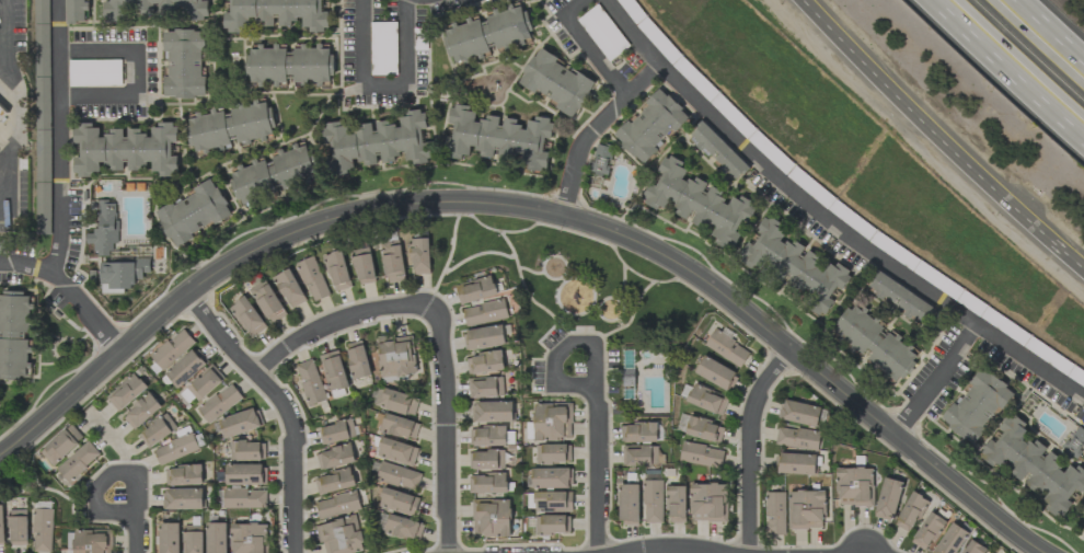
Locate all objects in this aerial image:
building: (157, 9)
building: (76, 10)
building: (276, 14)
building: (488, 34)
road: (1046, 36)
road: (590, 47)
building: (185, 65)
building: (290, 66)
road: (139, 72)
road: (1005, 72)
building: (94, 73)
road: (383, 81)
building: (556, 82)
road: (13, 93)
building: (1, 115)
building: (42, 117)
building: (651, 126)
building: (230, 127)
road: (592, 129)
road: (59, 136)
building: (498, 137)
road: (937, 139)
building: (376, 142)
building: (124, 149)
building: (718, 151)
building: (601, 160)
building: (275, 173)
building: (700, 203)
road: (535, 210)
building: (193, 214)
road: (828, 220)
building: (104, 228)
building: (420, 256)
building: (392, 257)
building: (795, 265)
building: (364, 266)
building: (337, 270)
building: (123, 275)
building: (313, 279)
building: (290, 288)
building: (475, 289)
road: (69, 293)
building: (901, 297)
building: (268, 301)
building: (485, 312)
building: (247, 316)
road: (338, 322)
building: (858, 331)
building: (14, 333)
building: (484, 337)
building: (727, 348)
building: (172, 349)
road: (566, 352)
building: (396, 356)
building: (893, 358)
building: (358, 359)
building: (484, 362)
building: (186, 368)
building: (333, 370)
building: (716, 373)
building: (310, 382)
road: (936, 382)
building: (200, 385)
building: (485, 387)
building: (126, 392)
building: (706, 400)
building: (395, 402)
building: (219, 403)
building: (978, 405)
road: (284, 407)
building: (141, 412)
building: (493, 412)
building: (800, 413)
building: (552, 422)
building: (240, 423)
building: (399, 427)
road: (448, 429)
building: (704, 429)
building: (157, 430)
building: (336, 431)
building: (638, 433)
building: (487, 436)
building: (797, 438)
building: (1079, 440)
road: (115, 442)
building: (61, 445)
road: (751, 445)
building: (176, 448)
building: (247, 450)
building: (396, 451)
building: (553, 453)
building: (701, 454)
building: (639, 456)
building: (335, 457)
building: (486, 460)
building: (78, 462)
building: (797, 463)
building: (1035, 465)
road: (600, 470)
building: (245, 474)
building: (184, 475)
building: (397, 476)
building: (551, 477)
building: (334, 481)
building: (487, 483)
road: (108, 484)
building: (855, 486)
building: (244, 498)
building: (888, 498)
building: (183, 499)
building: (397, 502)
building: (552, 502)
building: (653, 502)
building: (708, 503)
building: (629, 504)
building: (676, 504)
building: (337, 505)
building: (806, 509)
building: (911, 511)
building: (775, 514)
building: (491, 518)
building: (552, 525)
building: (1, 526)
building: (19, 527)
building: (404, 527)
building: (43, 530)
building: (929, 531)
road: (141, 532)
building: (341, 535)
building: (169, 538)
building: (217, 538)
building: (249, 538)
building: (193, 539)
building: (952, 539)
road: (670, 548)
building: (975, 548)

